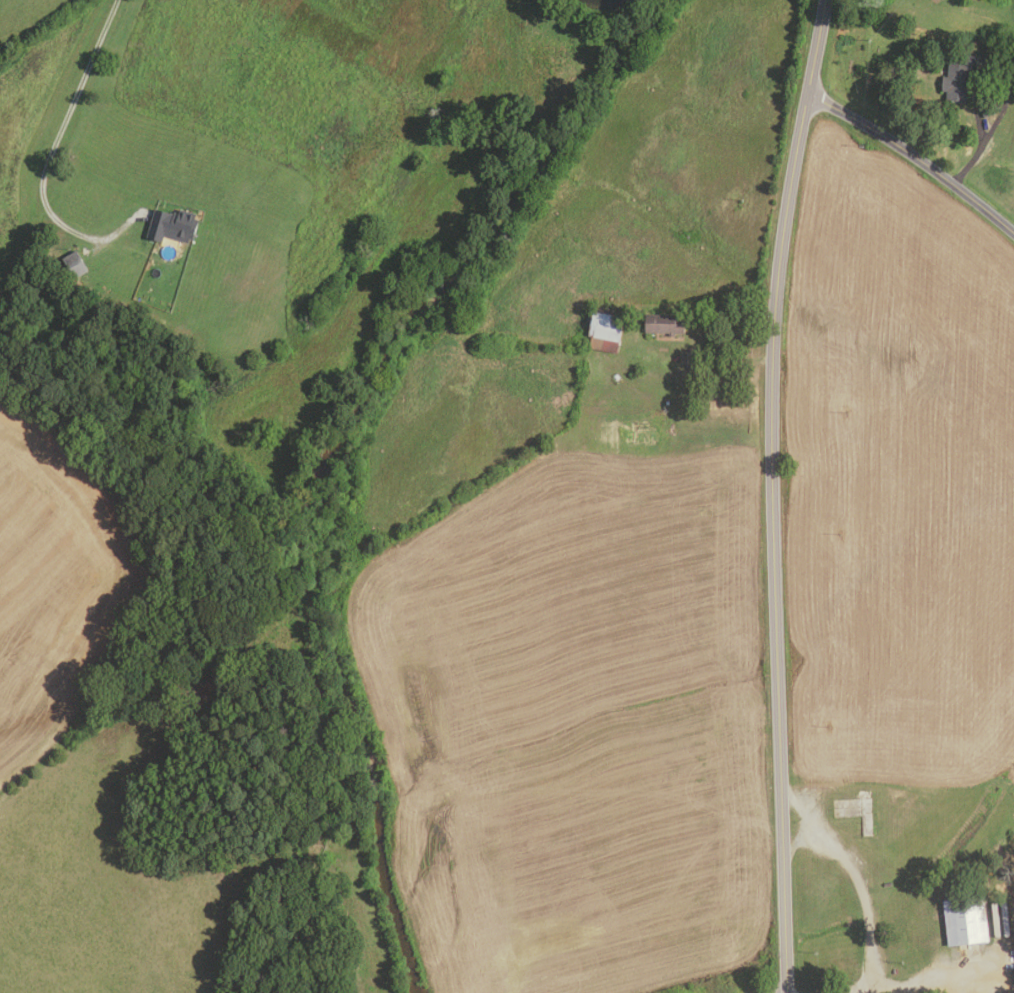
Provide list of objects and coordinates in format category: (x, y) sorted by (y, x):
building: (985, 53)
building: (957, 76)
road: (975, 92)
road: (51, 150)
road: (915, 157)
building: (172, 226)
building: (74, 264)
building: (664, 324)
building: (604, 330)
road: (771, 494)
road: (806, 844)
road: (856, 873)
building: (965, 920)
road: (906, 987)

